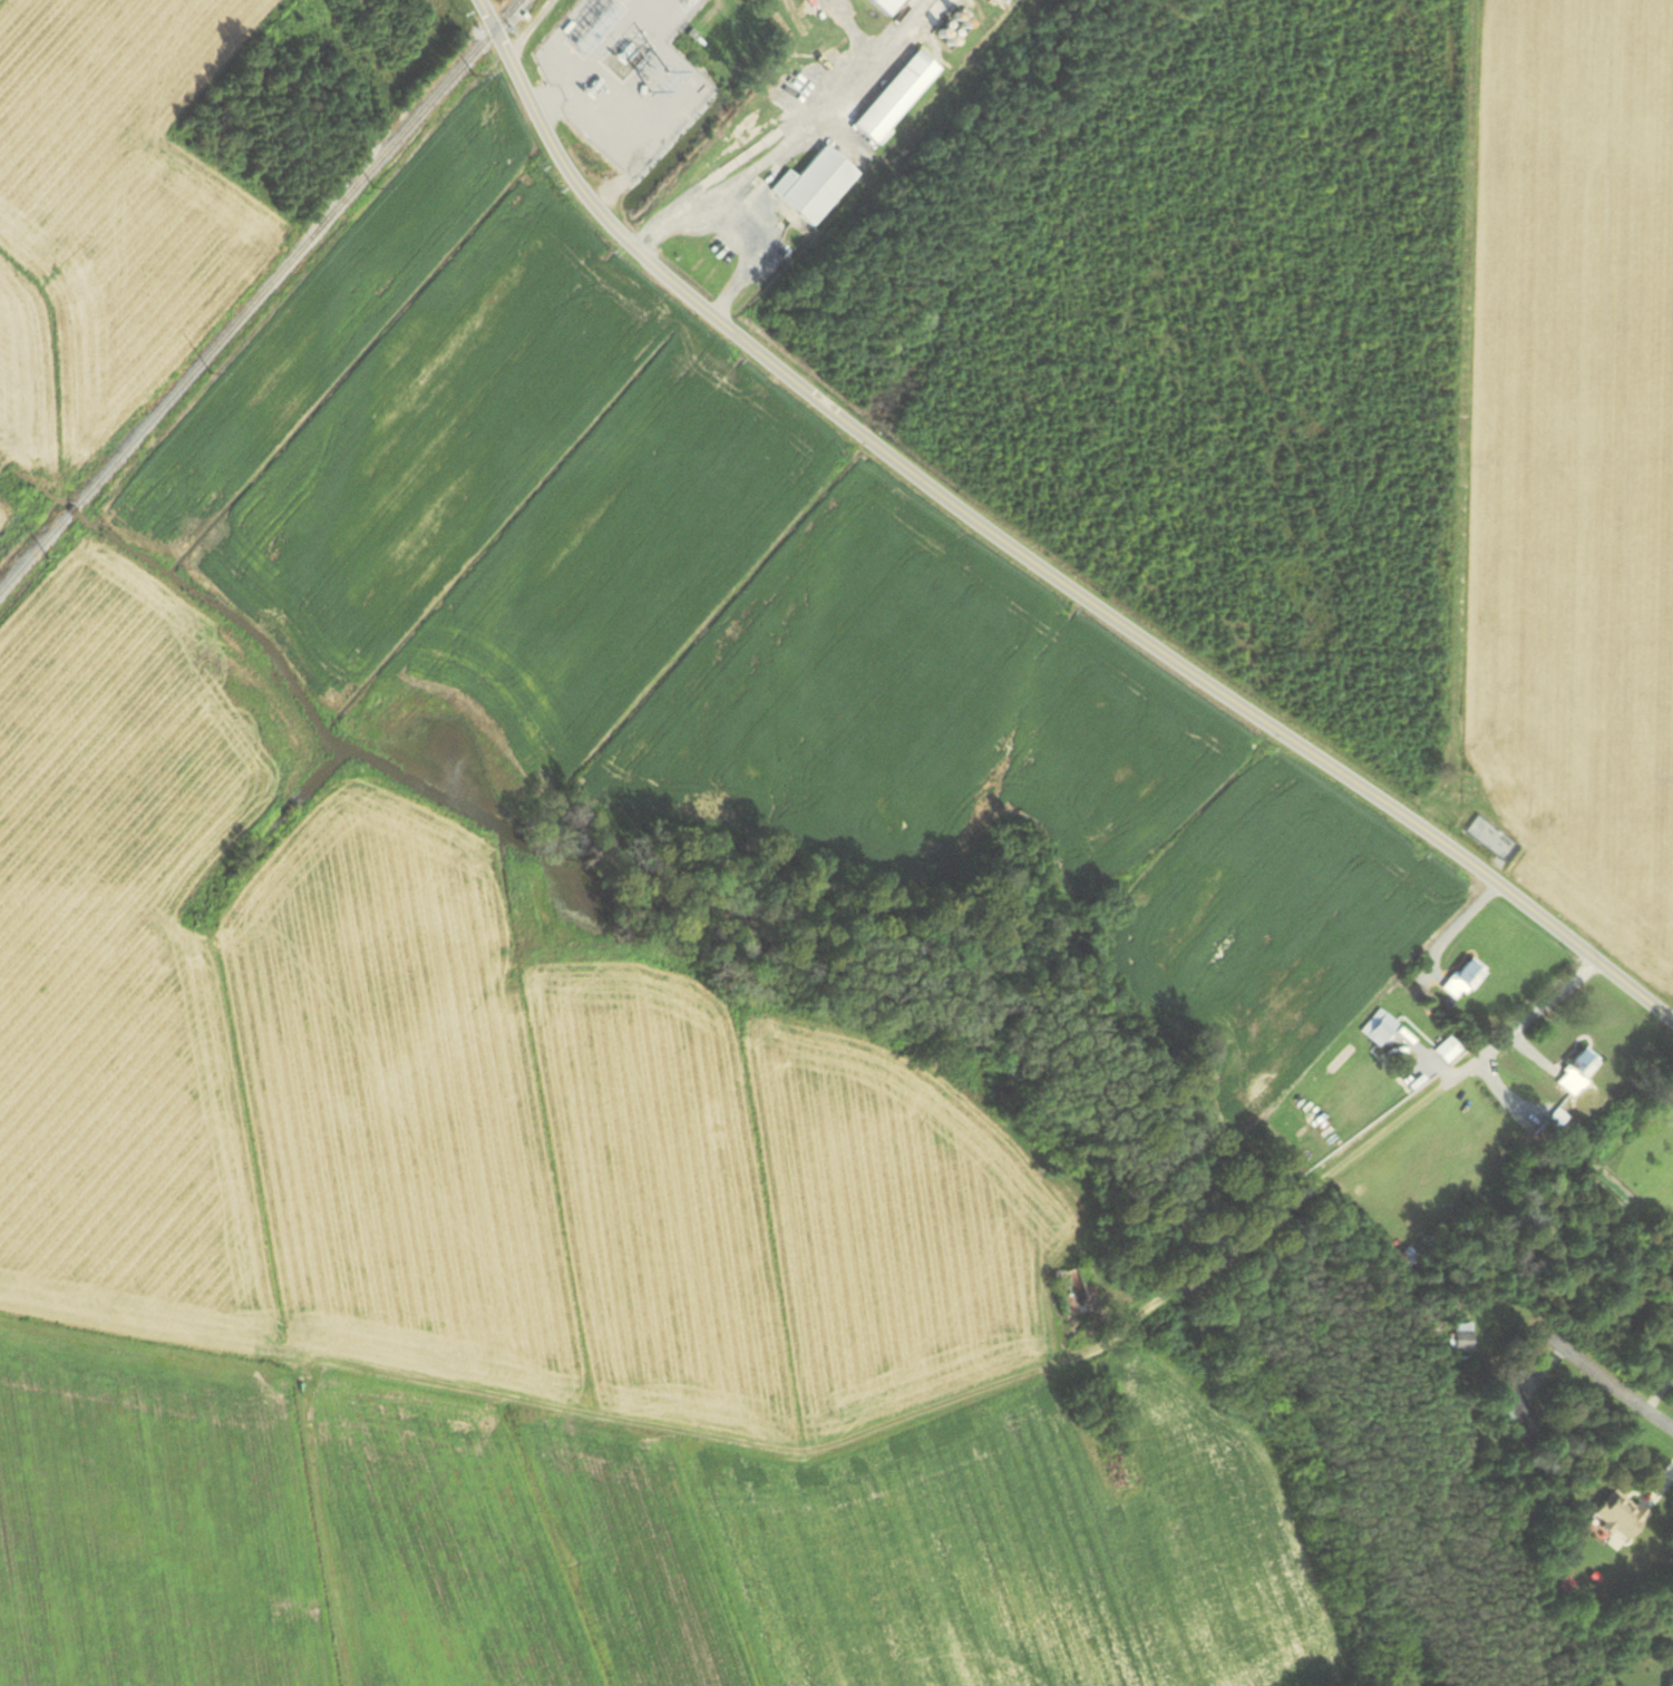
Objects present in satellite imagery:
building: (359, 2)
railway: (796, 16)
road: (840, 27)
road: (894, 35)
power substation: (625, 75)
power tower: (476, 77)
building: (895, 97)
road: (781, 144)
railway: (357, 179)
power tower: (375, 183)
building: (814, 186)
road: (721, 227)
railway: (262, 296)
power tower: (212, 371)
power tower: (50, 555)
road: (1023, 559)
building: (1492, 838)
building: (1463, 980)
building: (1379, 1027)
building: (1576, 1074)
building: (1554, 1124)
road: (1334, 1170)
building: (1404, 1259)
building: (1074, 1289)
building: (1461, 1337)
road: (1563, 1347)
building: (1519, 1412)
building: (1618, 1519)
building: (1671, 1682)

